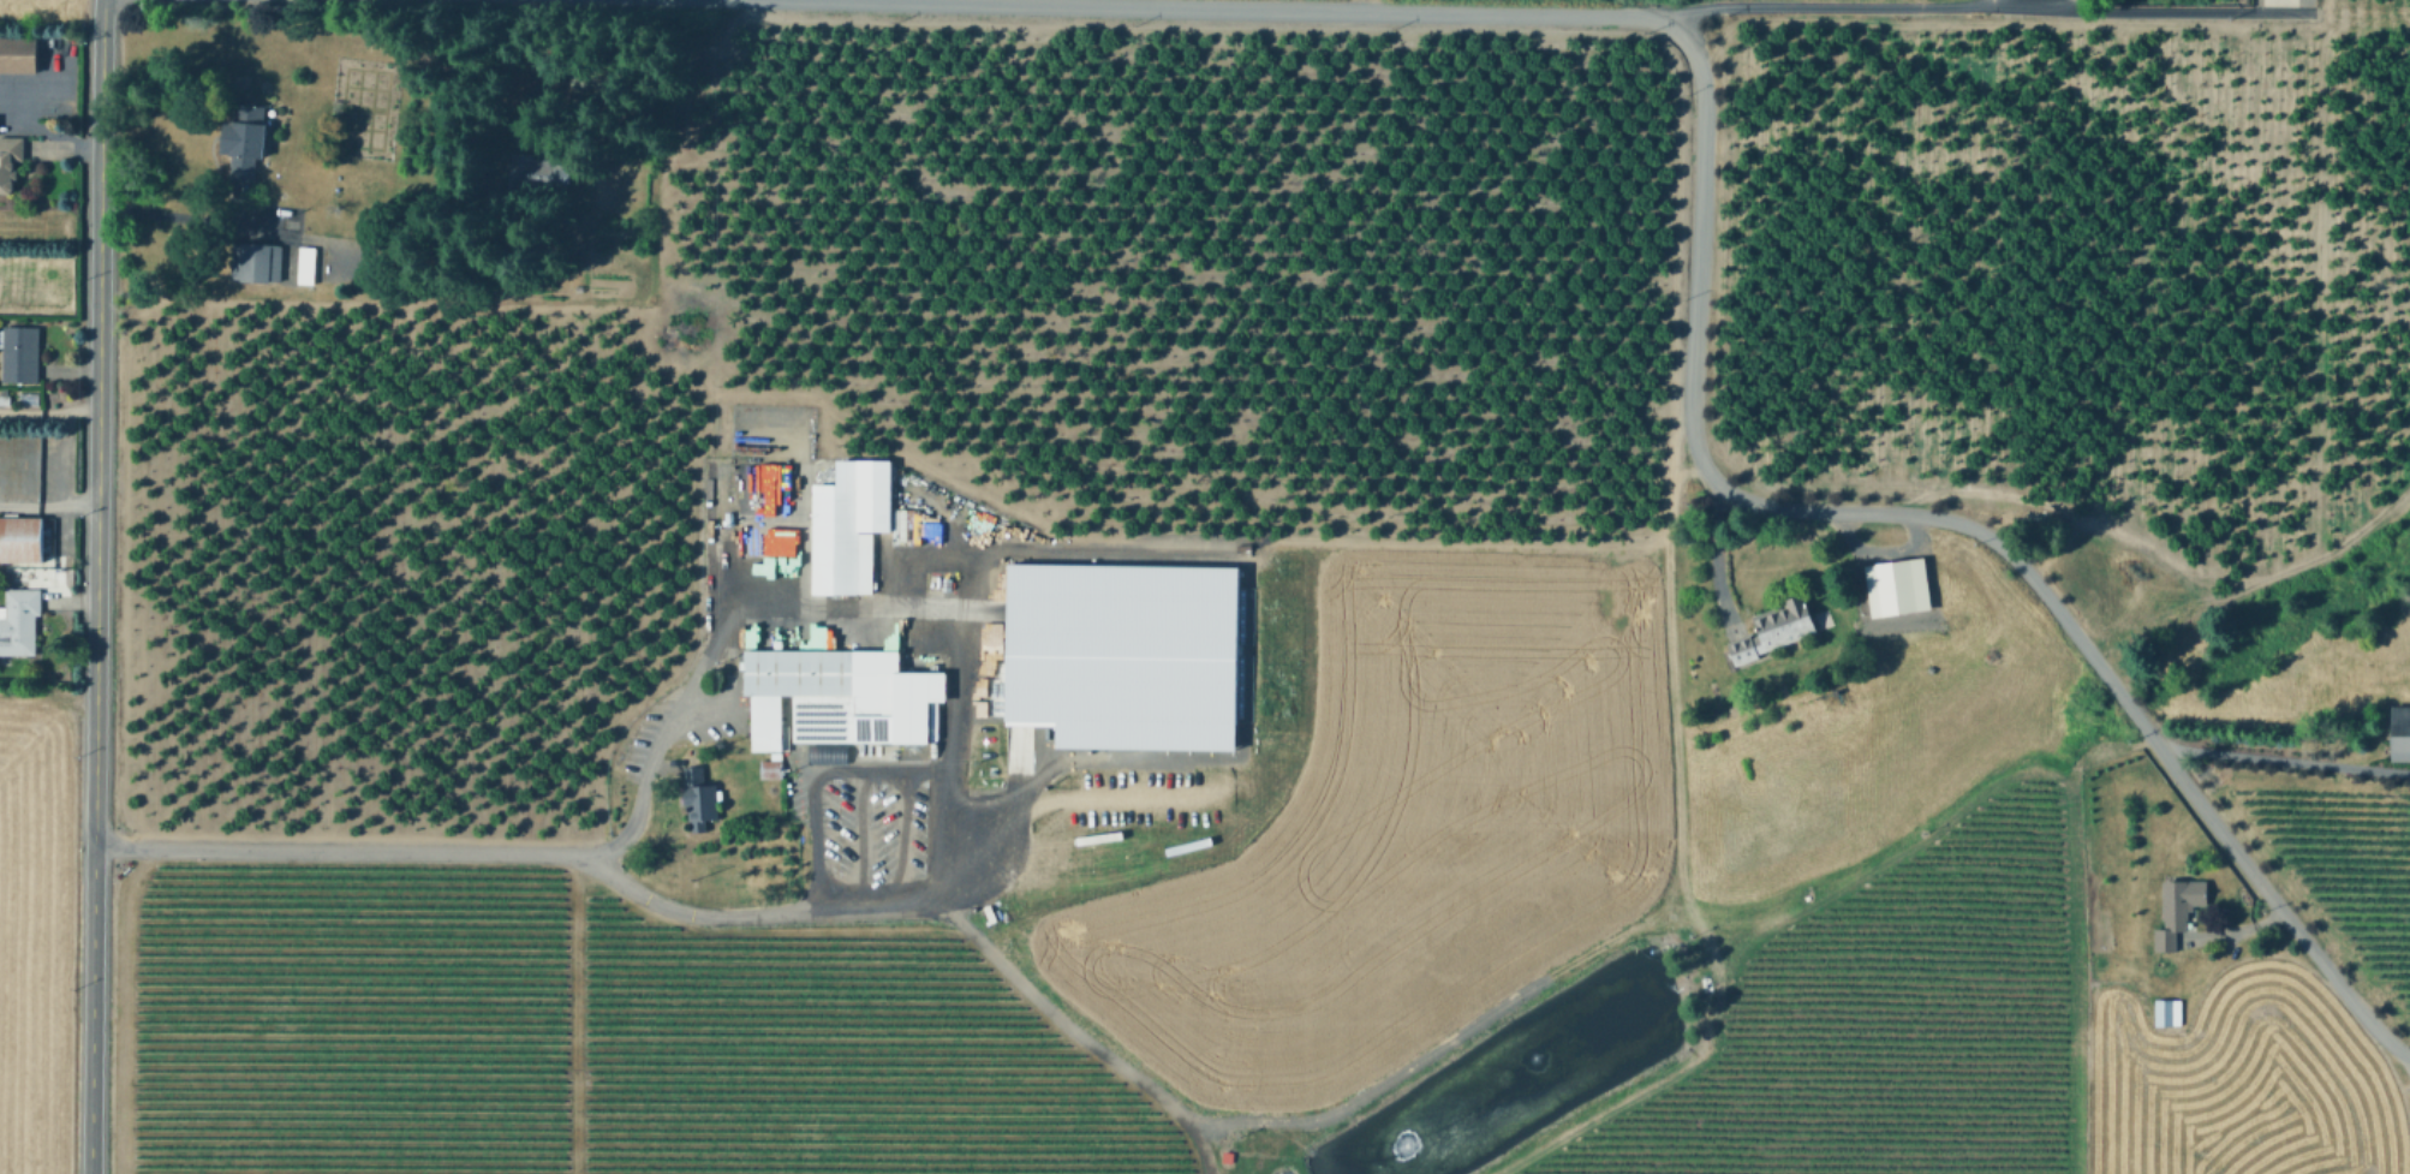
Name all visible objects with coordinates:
road: (2000, 1)
road: (1812, 8)
road: (2183, 13)
building: (18, 54)
building: (592, 83)
road: (43, 130)
building: (243, 144)
building: (10, 160)
building: (541, 172)
road: (183, 217)
building: (257, 262)
building: (308, 266)
road: (1696, 342)
building: (20, 353)
building: (5, 399)
building: (769, 489)
road: (48, 503)
building: (851, 525)
building: (20, 538)
building: (782, 542)
road: (1714, 552)
road: (712, 554)
building: (1895, 585)
road: (96, 586)
building: (20, 621)
building: (1776, 630)
building: (1122, 652)
building: (840, 697)
building: (2397, 733)
road: (2285, 758)
building: (768, 768)
road: (815, 786)
building: (699, 797)
road: (996, 830)
road: (899, 836)
road: (857, 841)
road: (1676, 871)
building: (2182, 896)
road: (896, 904)
crop: (32, 926)
crop: (1279, 938)
building: (2166, 940)
building: (2169, 1012)
road: (1070, 1029)
road: (1450, 1036)

